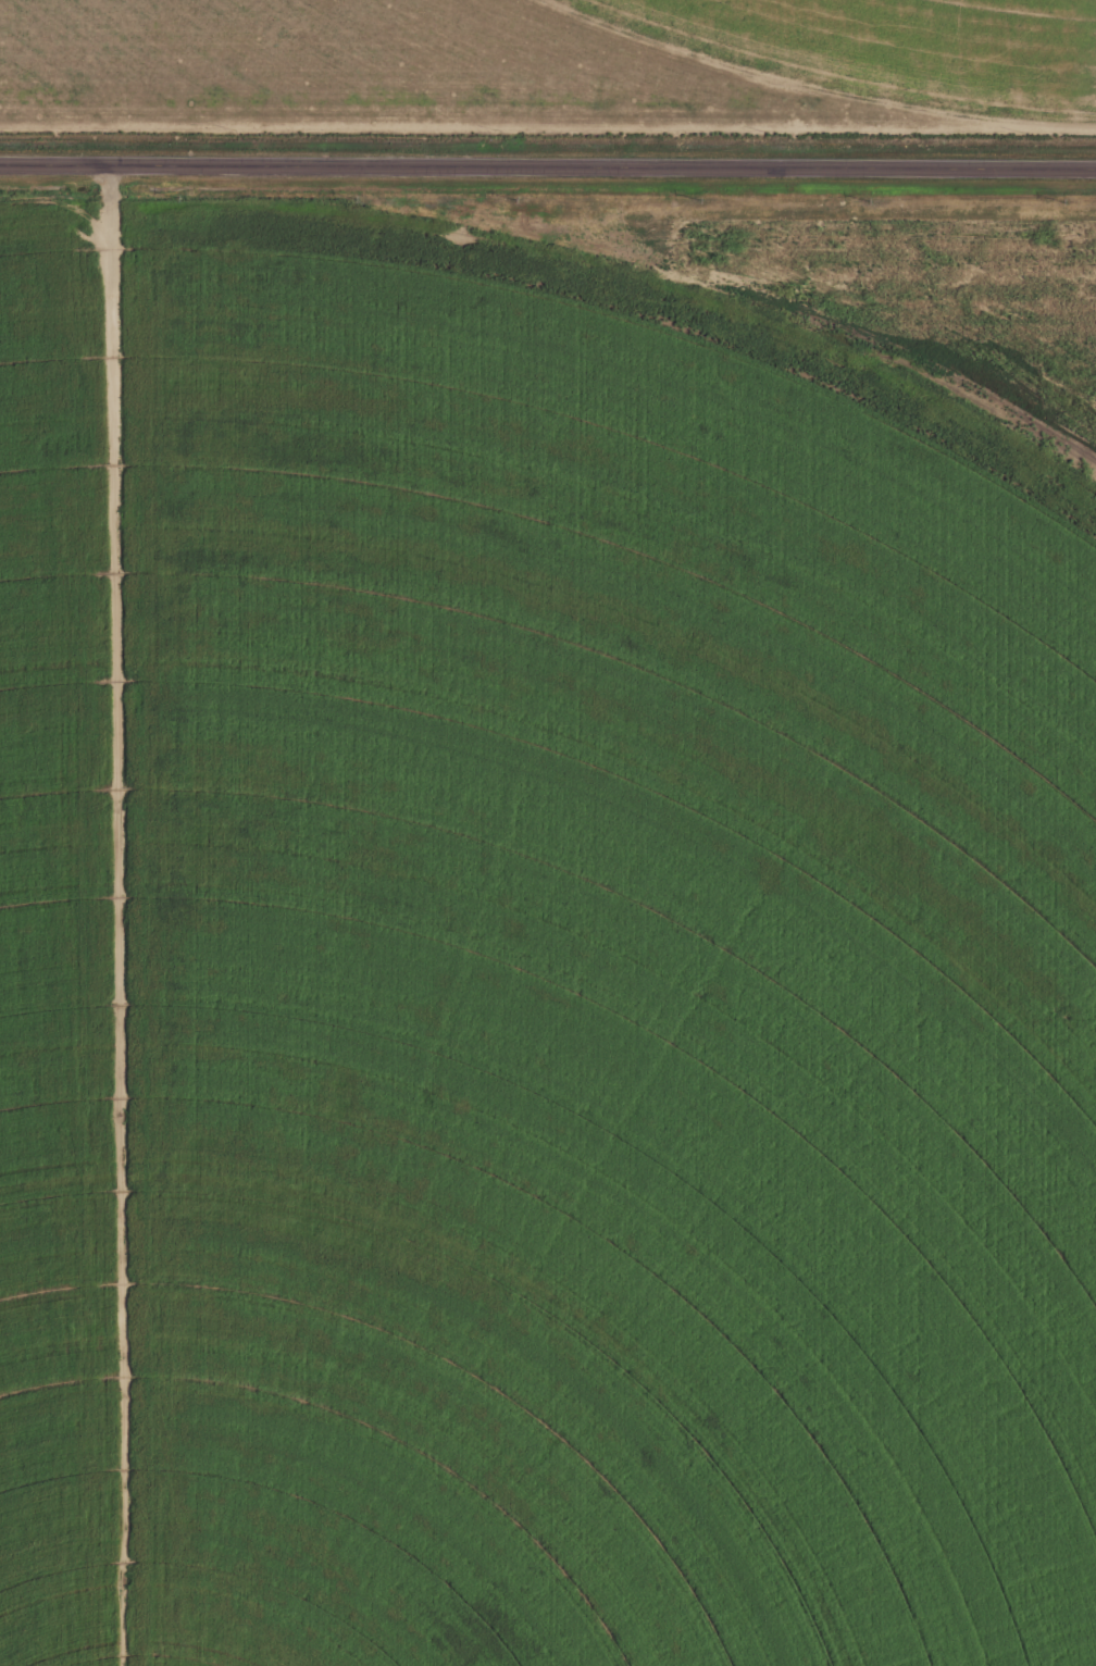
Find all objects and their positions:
road: (548, 163)

